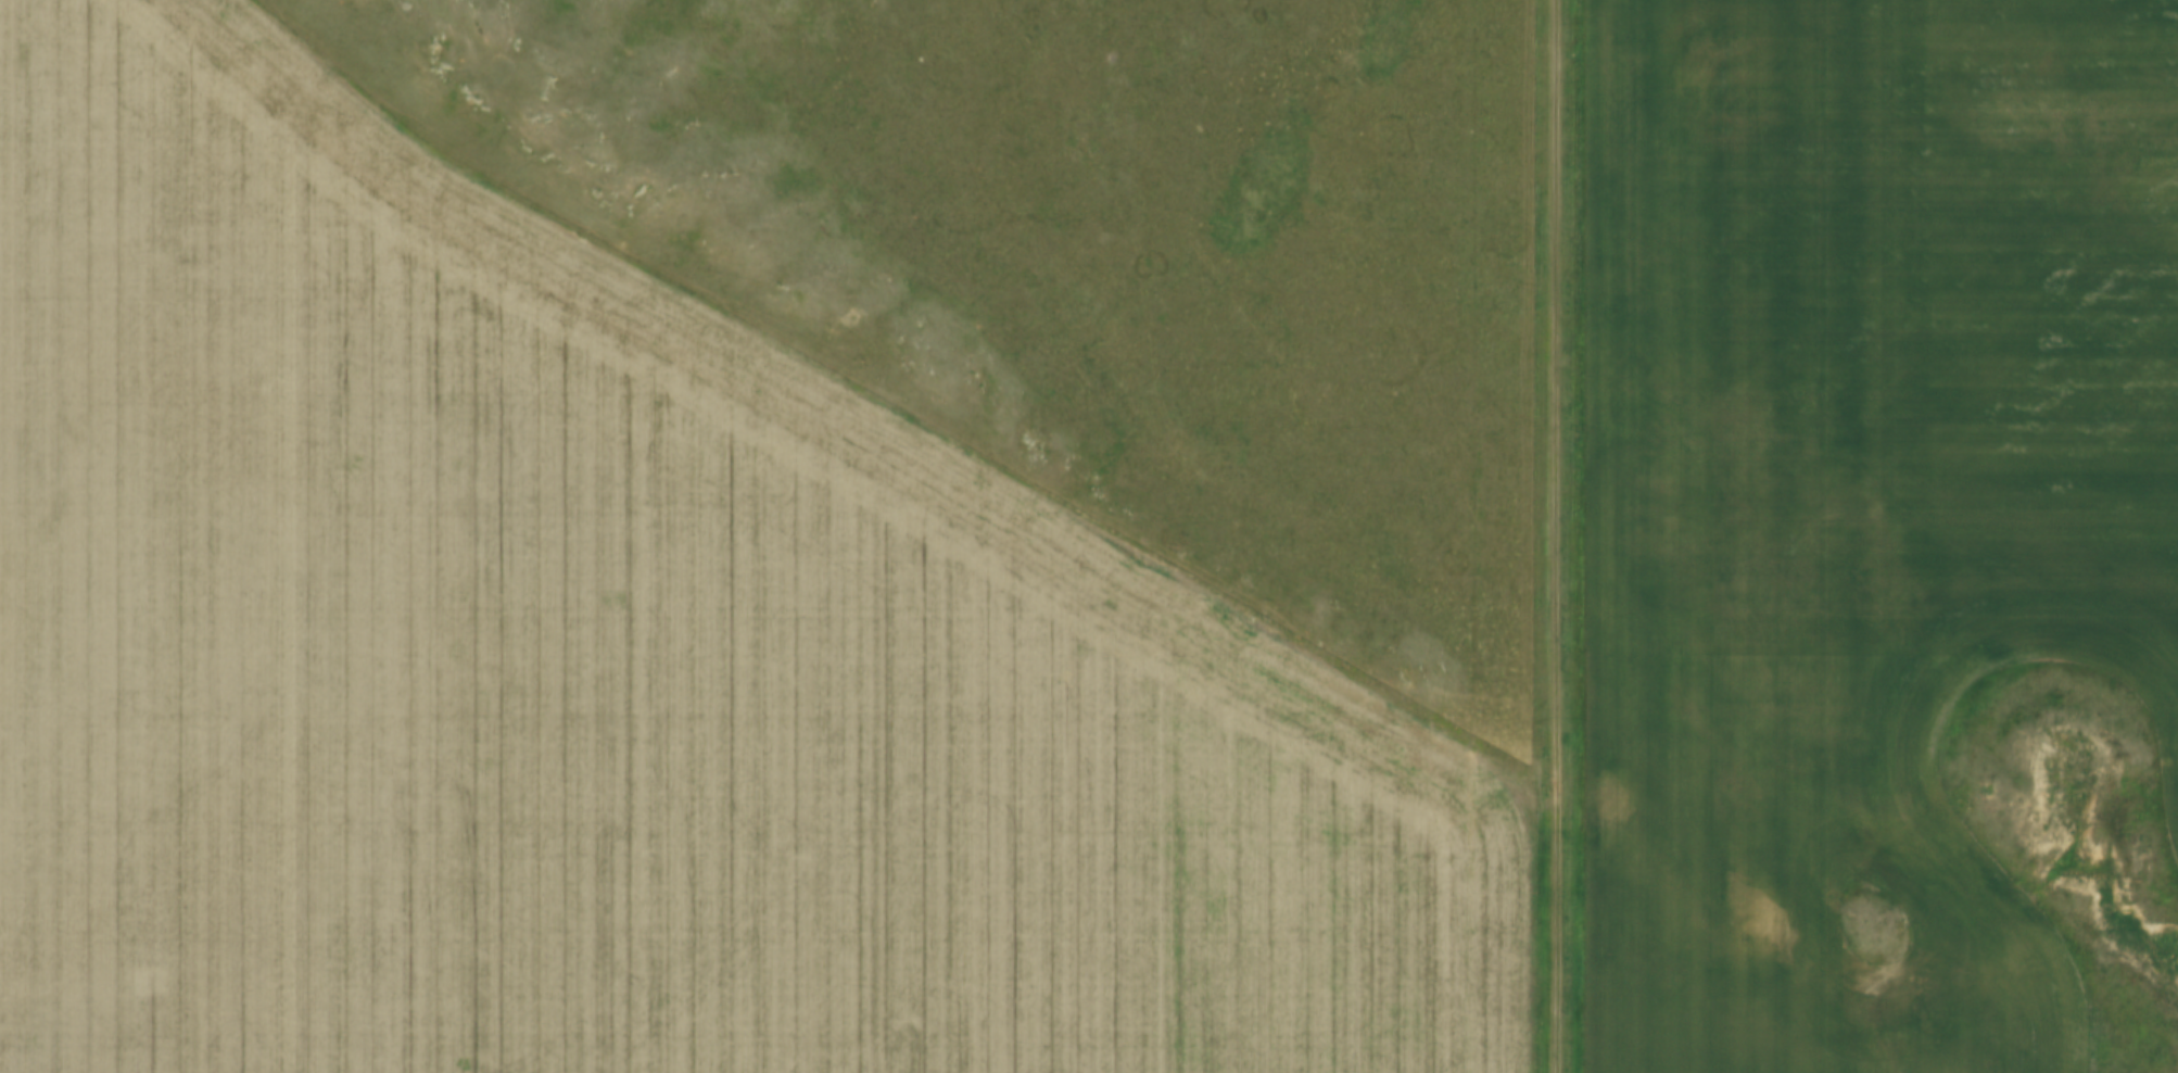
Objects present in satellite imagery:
road: (1557, 536)

